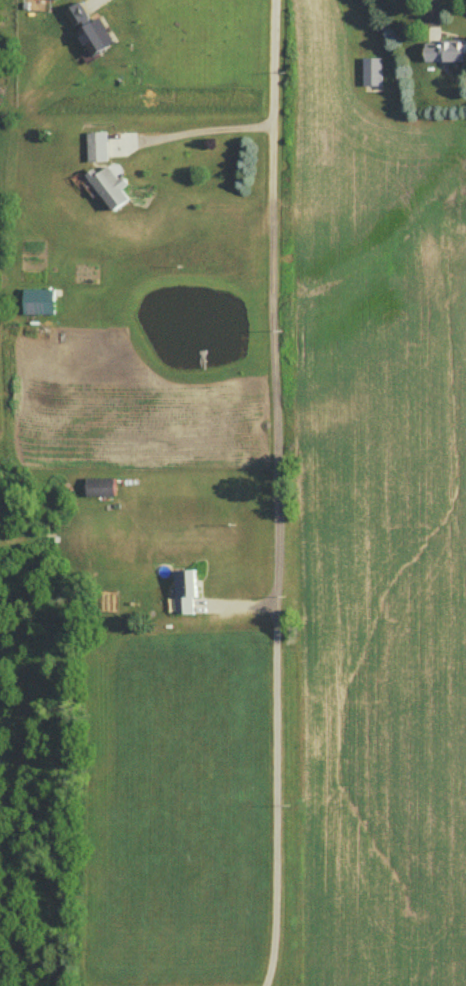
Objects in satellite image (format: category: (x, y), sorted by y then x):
building: (54, 0)
road: (432, 14)
building: (447, 53)
building: (375, 74)
road: (203, 127)
building: (99, 149)
building: (112, 188)
building: (42, 303)
building: (103, 488)
road: (281, 493)
building: (189, 591)

